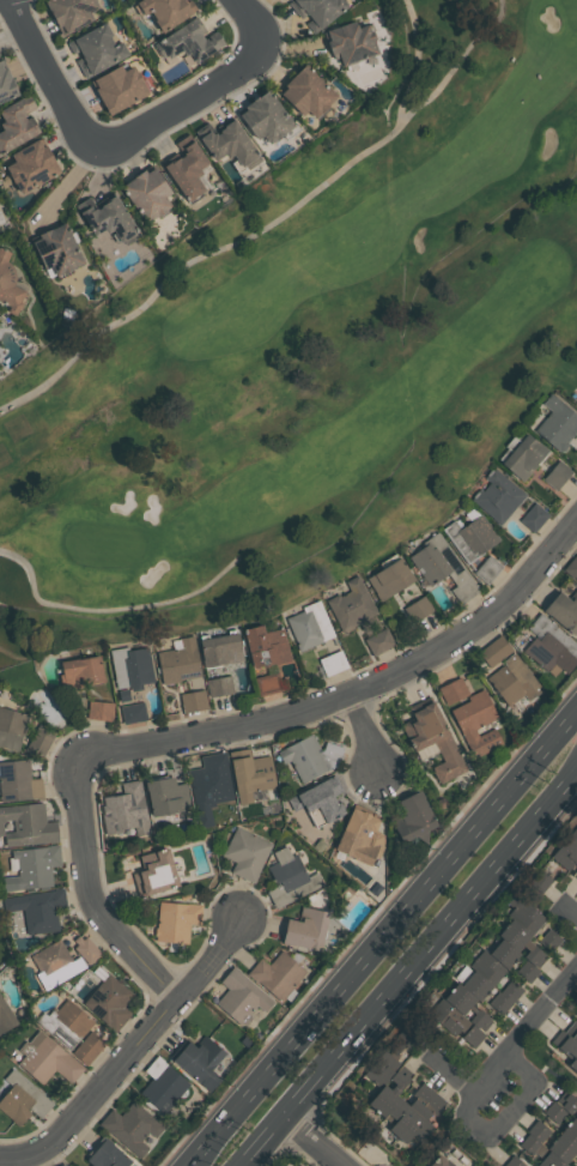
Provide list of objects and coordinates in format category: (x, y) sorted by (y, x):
building: (165, 11)
building: (316, 11)
building: (71, 12)
building: (188, 41)
building: (350, 42)
building: (96, 49)
road: (54, 73)
building: (6, 84)
building: (117, 87)
road: (208, 91)
building: (306, 91)
building: (265, 116)
building: (16, 123)
building: (226, 141)
building: (31, 165)
building: (186, 168)
building: (147, 193)
building: (108, 218)
building: (56, 248)
building: (10, 285)
park: (311, 345)
road: (42, 388)
building: (558, 423)
building: (524, 455)
building: (558, 473)
building: (499, 495)
building: (534, 516)
building: (472, 536)
building: (443, 567)
building: (571, 567)
building: (391, 578)
building: (352, 604)
building: (419, 608)
building: (564, 610)
building: (310, 626)
building: (379, 641)
building: (547, 644)
building: (267, 646)
building: (221, 648)
building: (496, 650)
building: (181, 660)
building: (334, 661)
building: (133, 667)
building: (83, 671)
building: (512, 679)
building: (220, 685)
road: (354, 690)
building: (194, 700)
building: (101, 709)
building: (134, 712)
building: (473, 715)
building: (12, 727)
road: (365, 735)
building: (432, 738)
building: (303, 759)
building: (250, 777)
building: (209, 778)
building: (18, 783)
building: (165, 797)
building: (318, 799)
building: (124, 810)
building: (412, 817)
building: (28, 826)
building: (359, 836)
building: (245, 853)
building: (555, 865)
building: (34, 866)
building: (573, 871)
building: (153, 872)
building: (288, 878)
road: (90, 893)
building: (36, 910)
building: (175, 922)
building: (530, 922)
building: (305, 929)
road: (382, 937)
building: (520, 942)
building: (87, 948)
building: (51, 957)
building: (514, 961)
road: (411, 971)
building: (275, 975)
building: (494, 975)
building: (484, 992)
building: (506, 996)
building: (241, 997)
building: (109, 1002)
building: (466, 1007)
road: (540, 1011)
building: (5, 1017)
building: (67, 1022)
building: (454, 1022)
building: (571, 1031)
building: (89, 1046)
building: (566, 1047)
road: (129, 1051)
building: (393, 1053)
building: (196, 1057)
building: (45, 1059)
building: (160, 1086)
building: (387, 1091)
building: (20, 1099)
building: (567, 1100)
building: (405, 1108)
building: (419, 1120)
building: (561, 1122)
building: (130, 1126)
road: (491, 1138)
road: (314, 1141)
building: (553, 1142)
building: (536, 1153)
building: (107, 1155)
building: (516, 1160)
building: (439, 1161)
building: (66, 1164)
building: (299, 1164)
building: (61, 1165)
building: (296, 1165)

